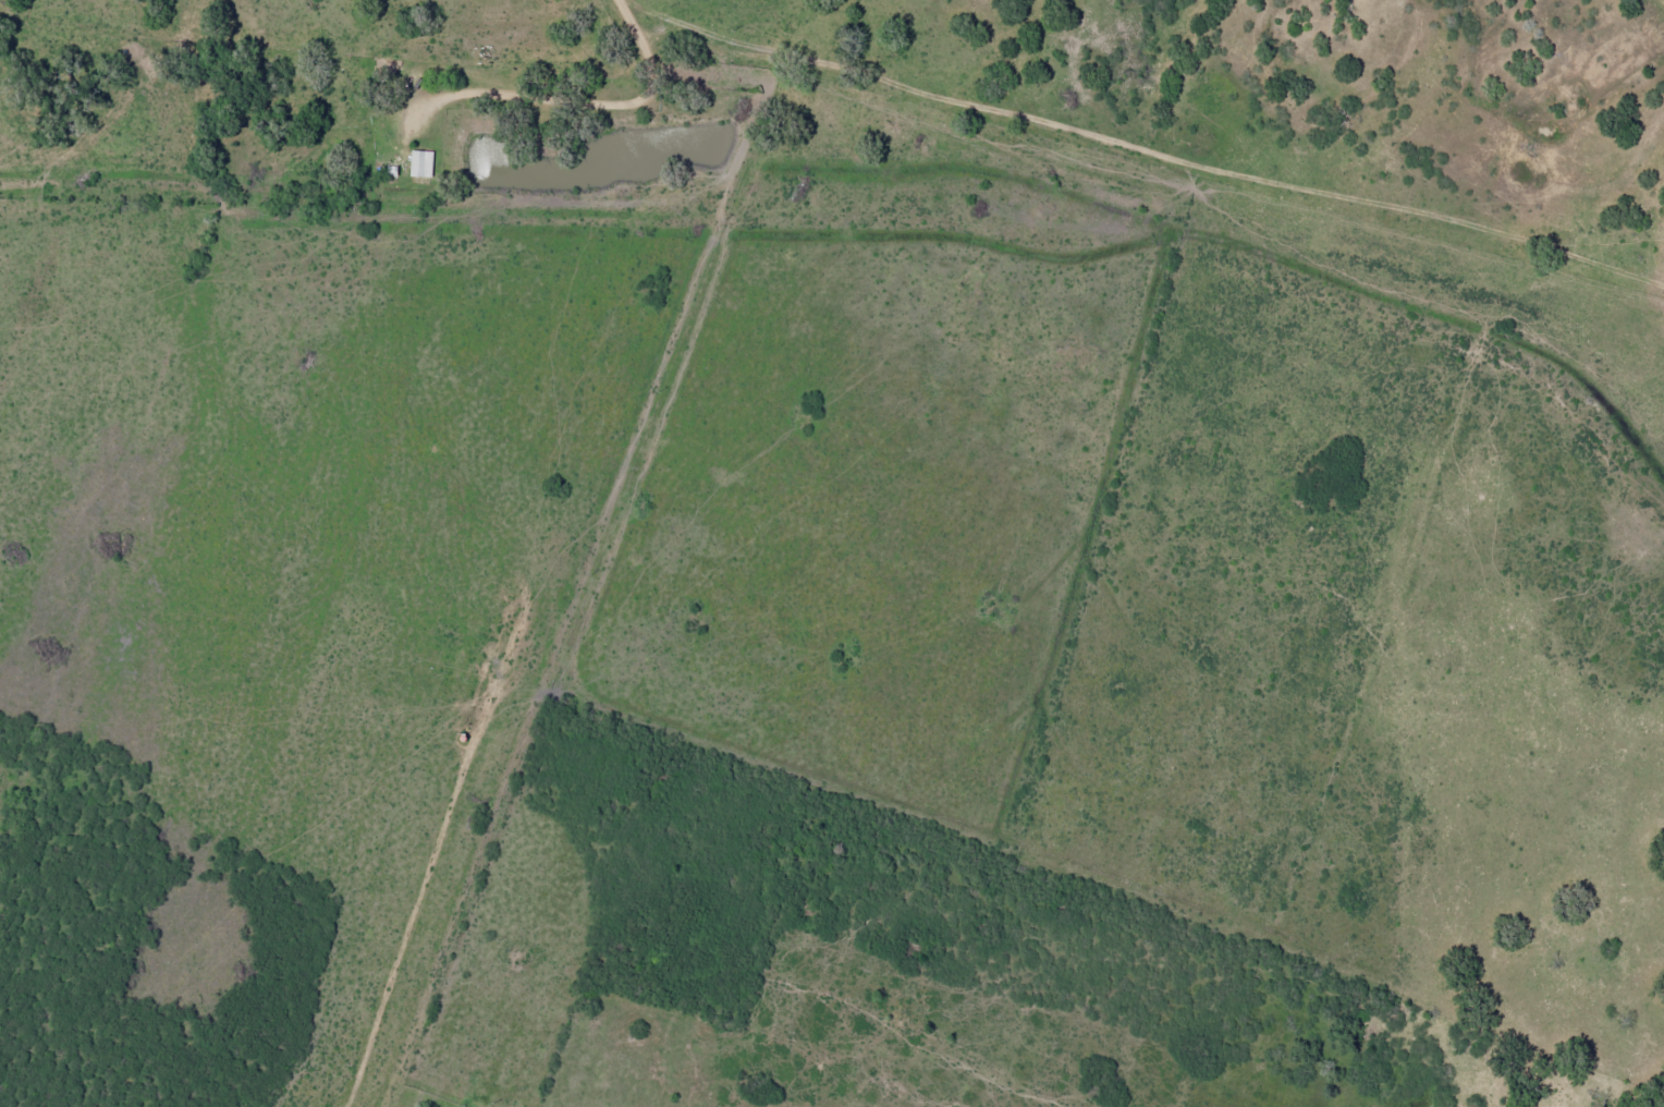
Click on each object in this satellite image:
building: (420, 163)
road: (1447, 1069)

